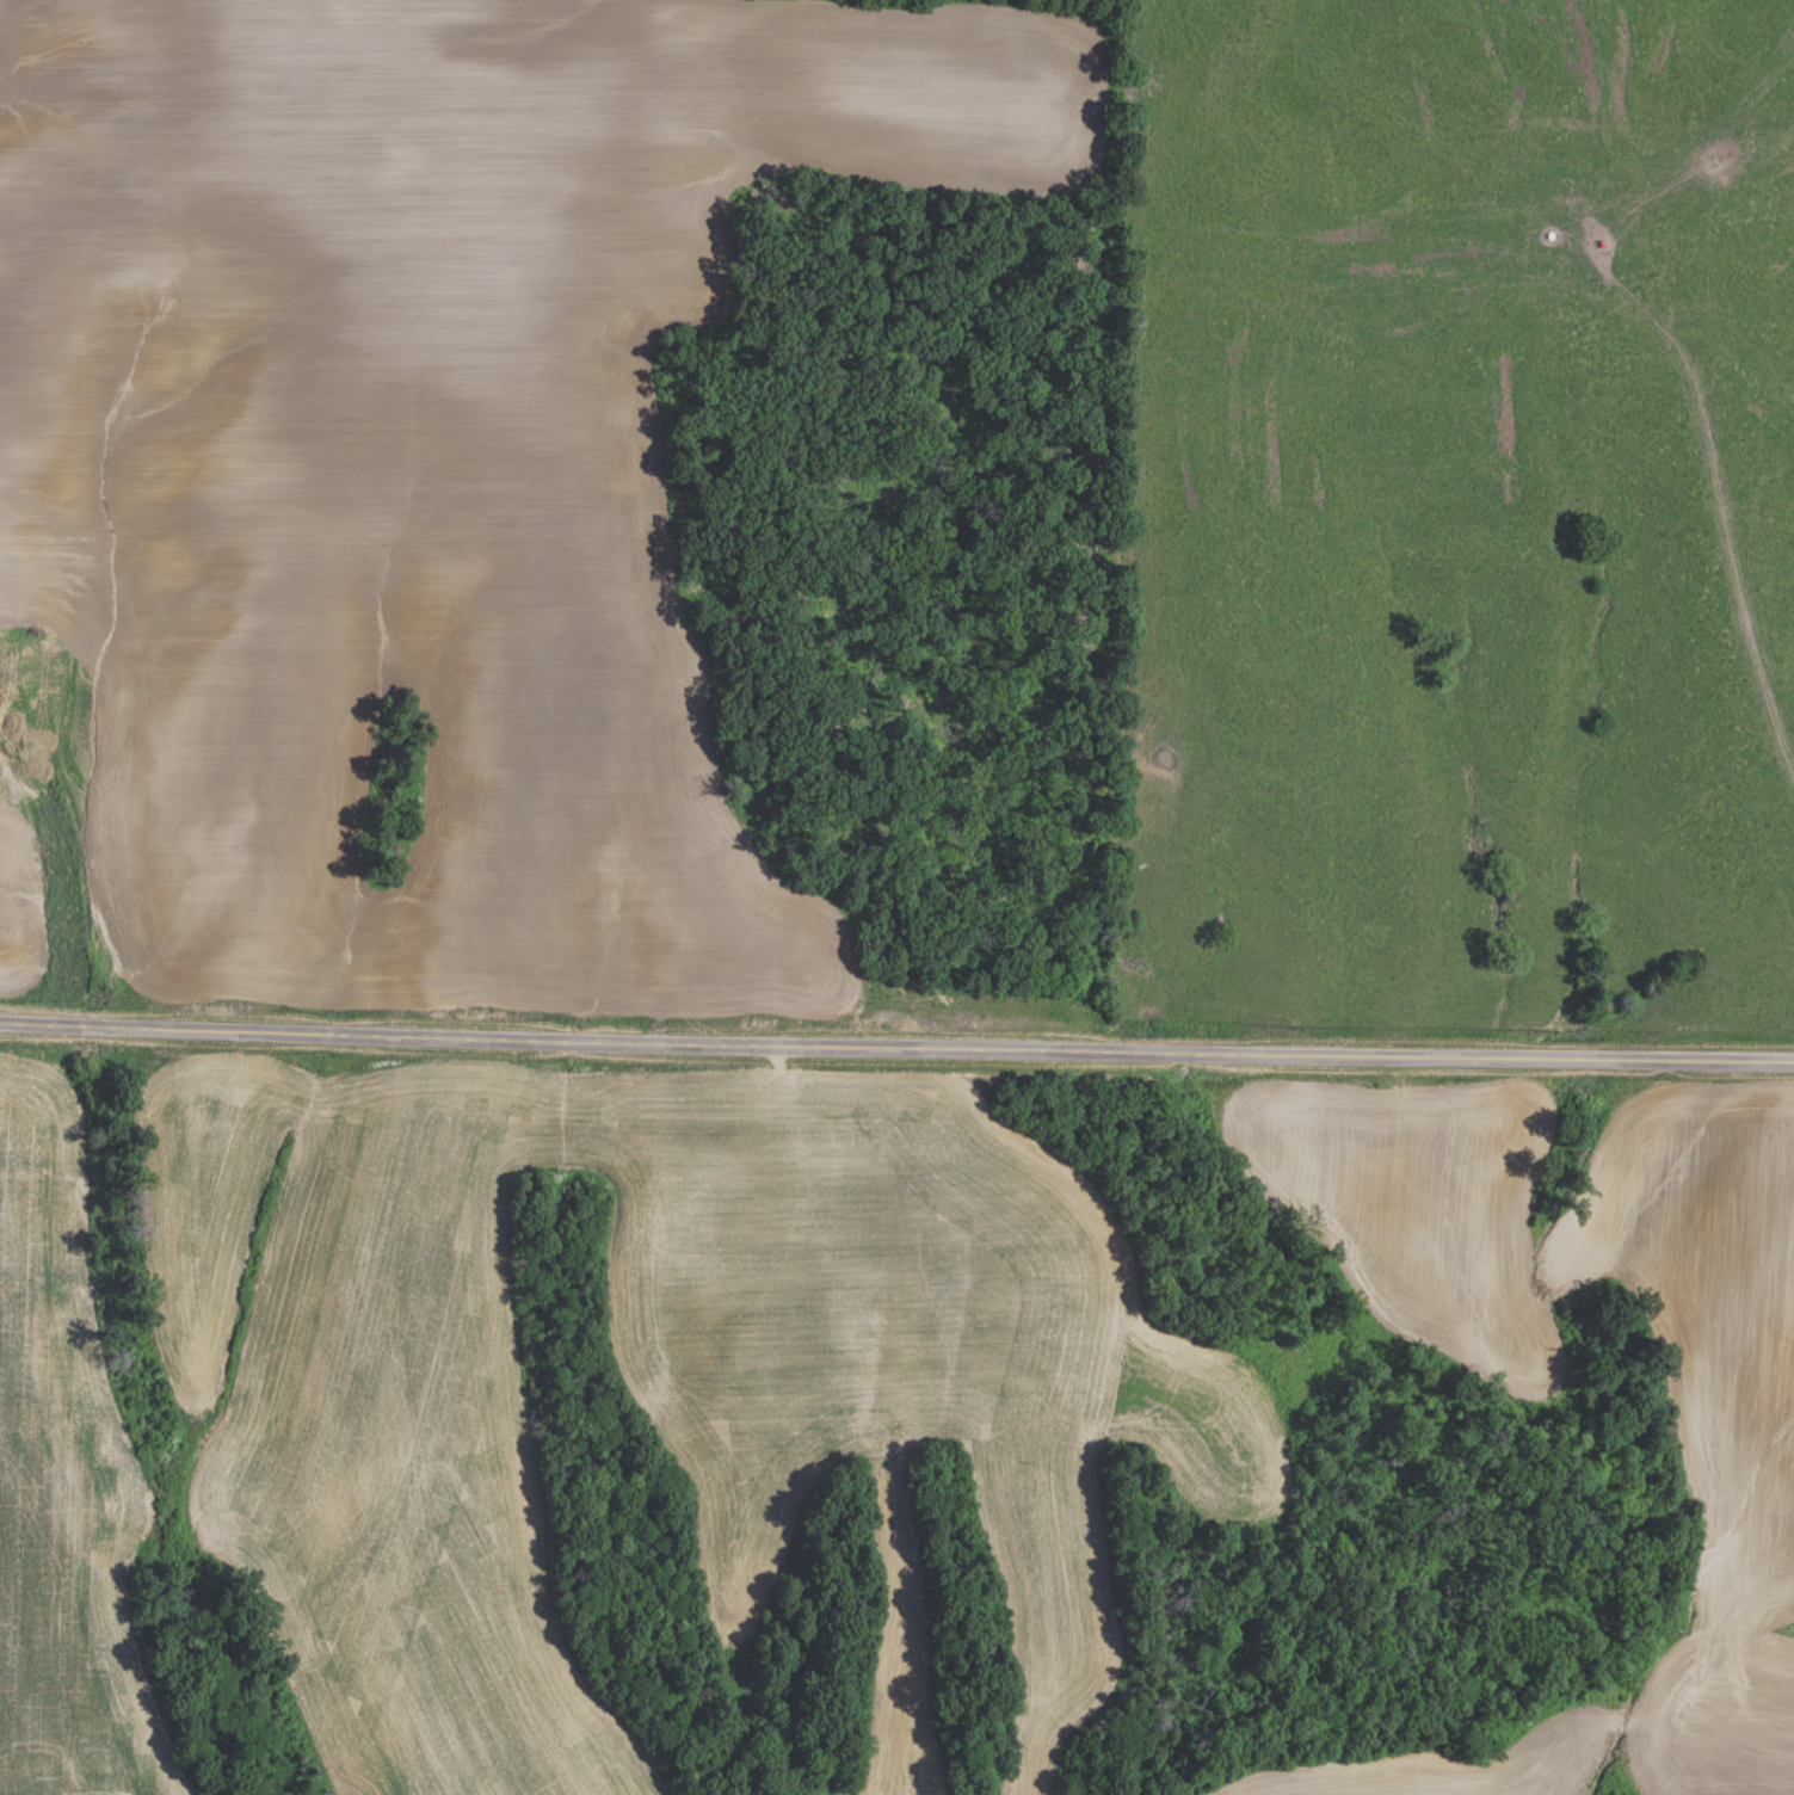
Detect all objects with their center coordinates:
road: (896, 1055)

